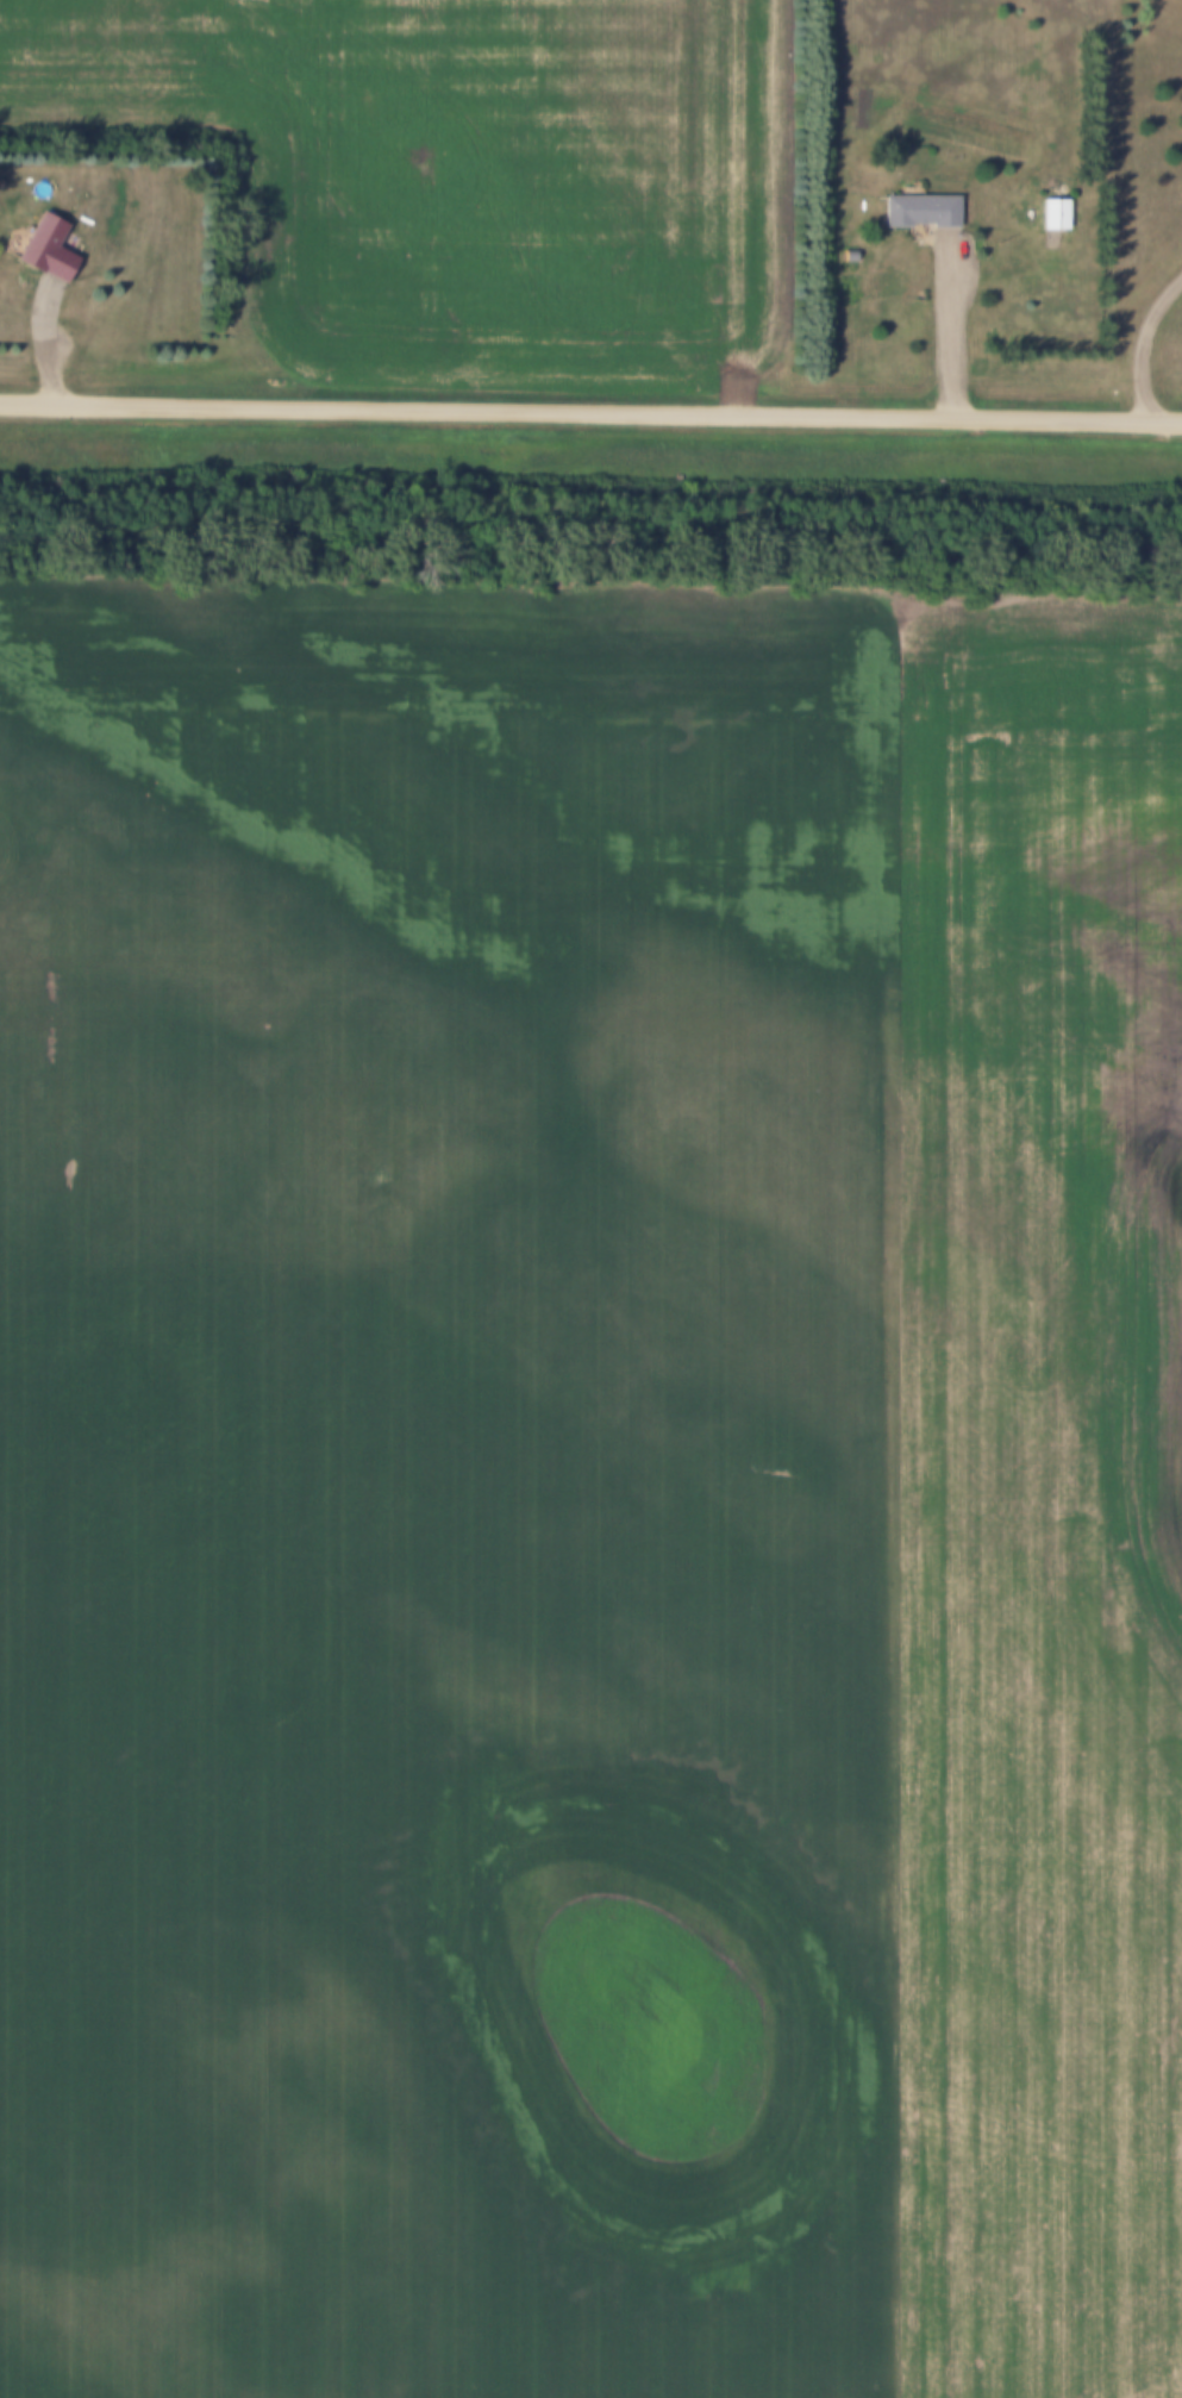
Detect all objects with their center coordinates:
building: (925, 213)
building: (1058, 218)
building: (50, 252)
road: (1145, 344)
road: (590, 407)

